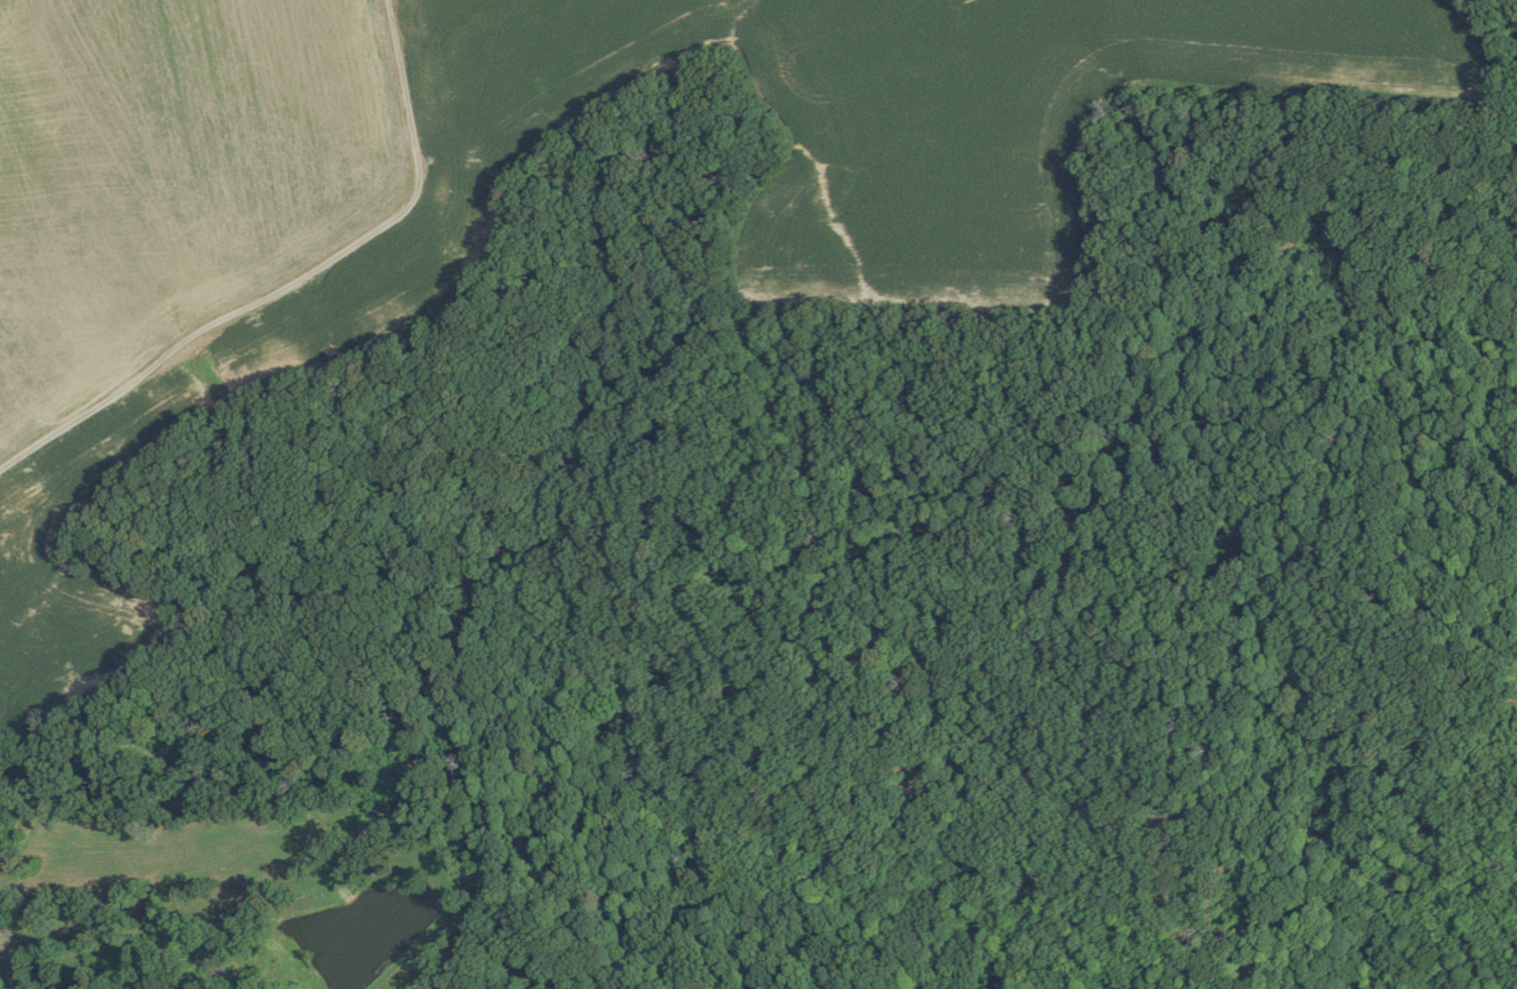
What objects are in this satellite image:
road: (291, 281)

